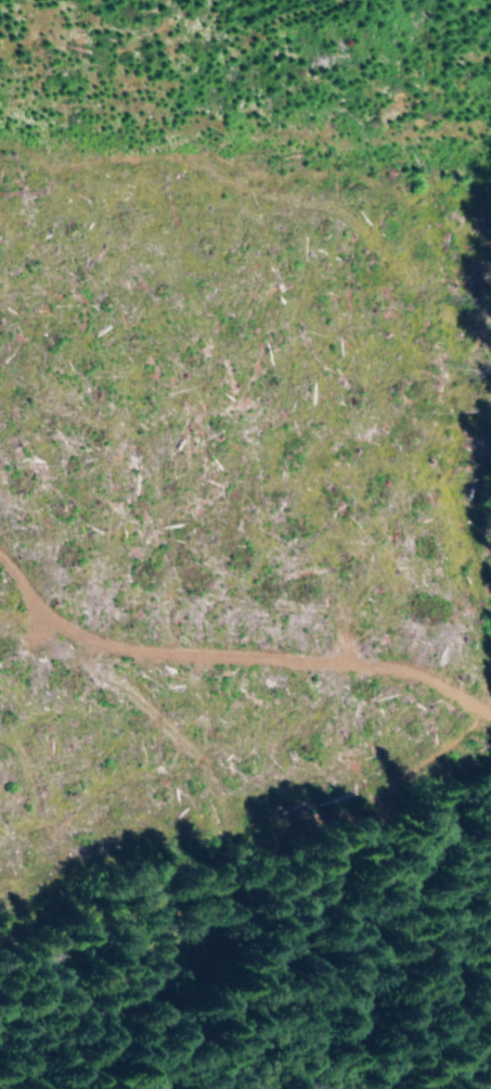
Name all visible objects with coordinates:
road: (229, 783)
road: (157, 951)

